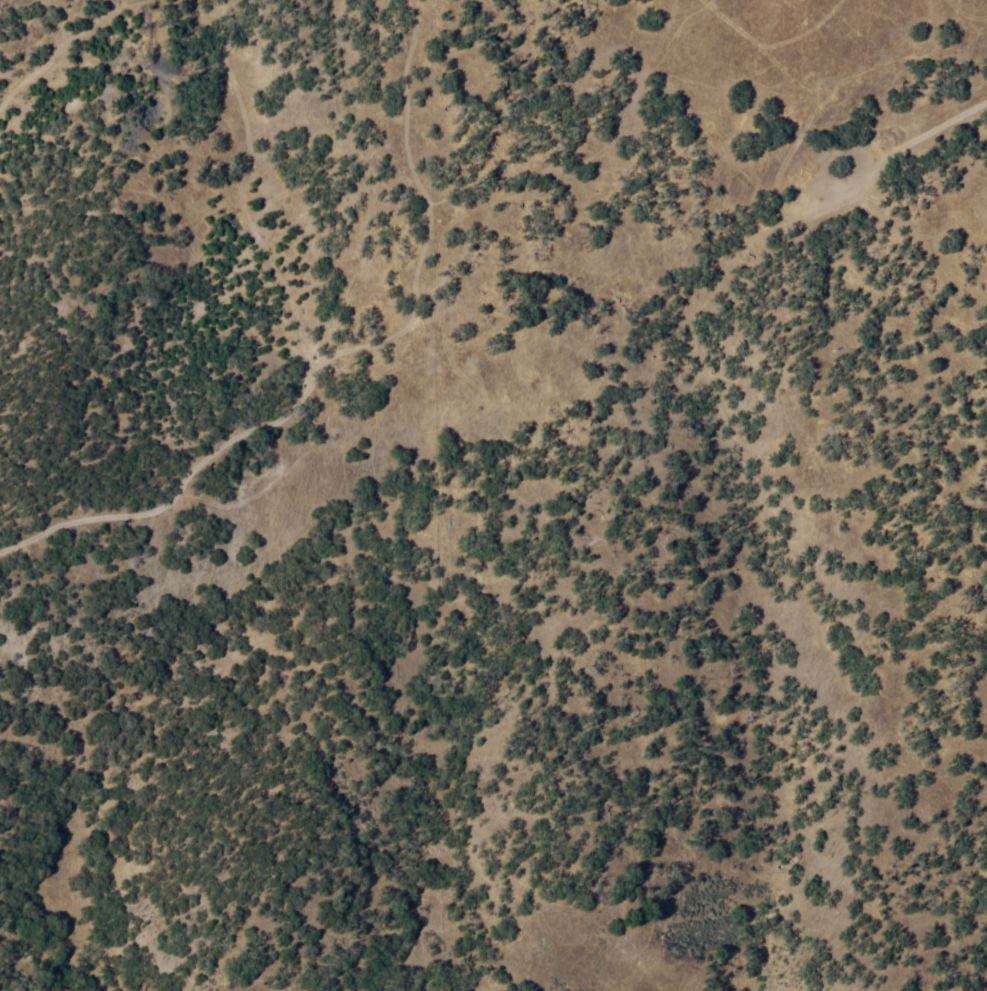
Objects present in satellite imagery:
building: (845, 164)

